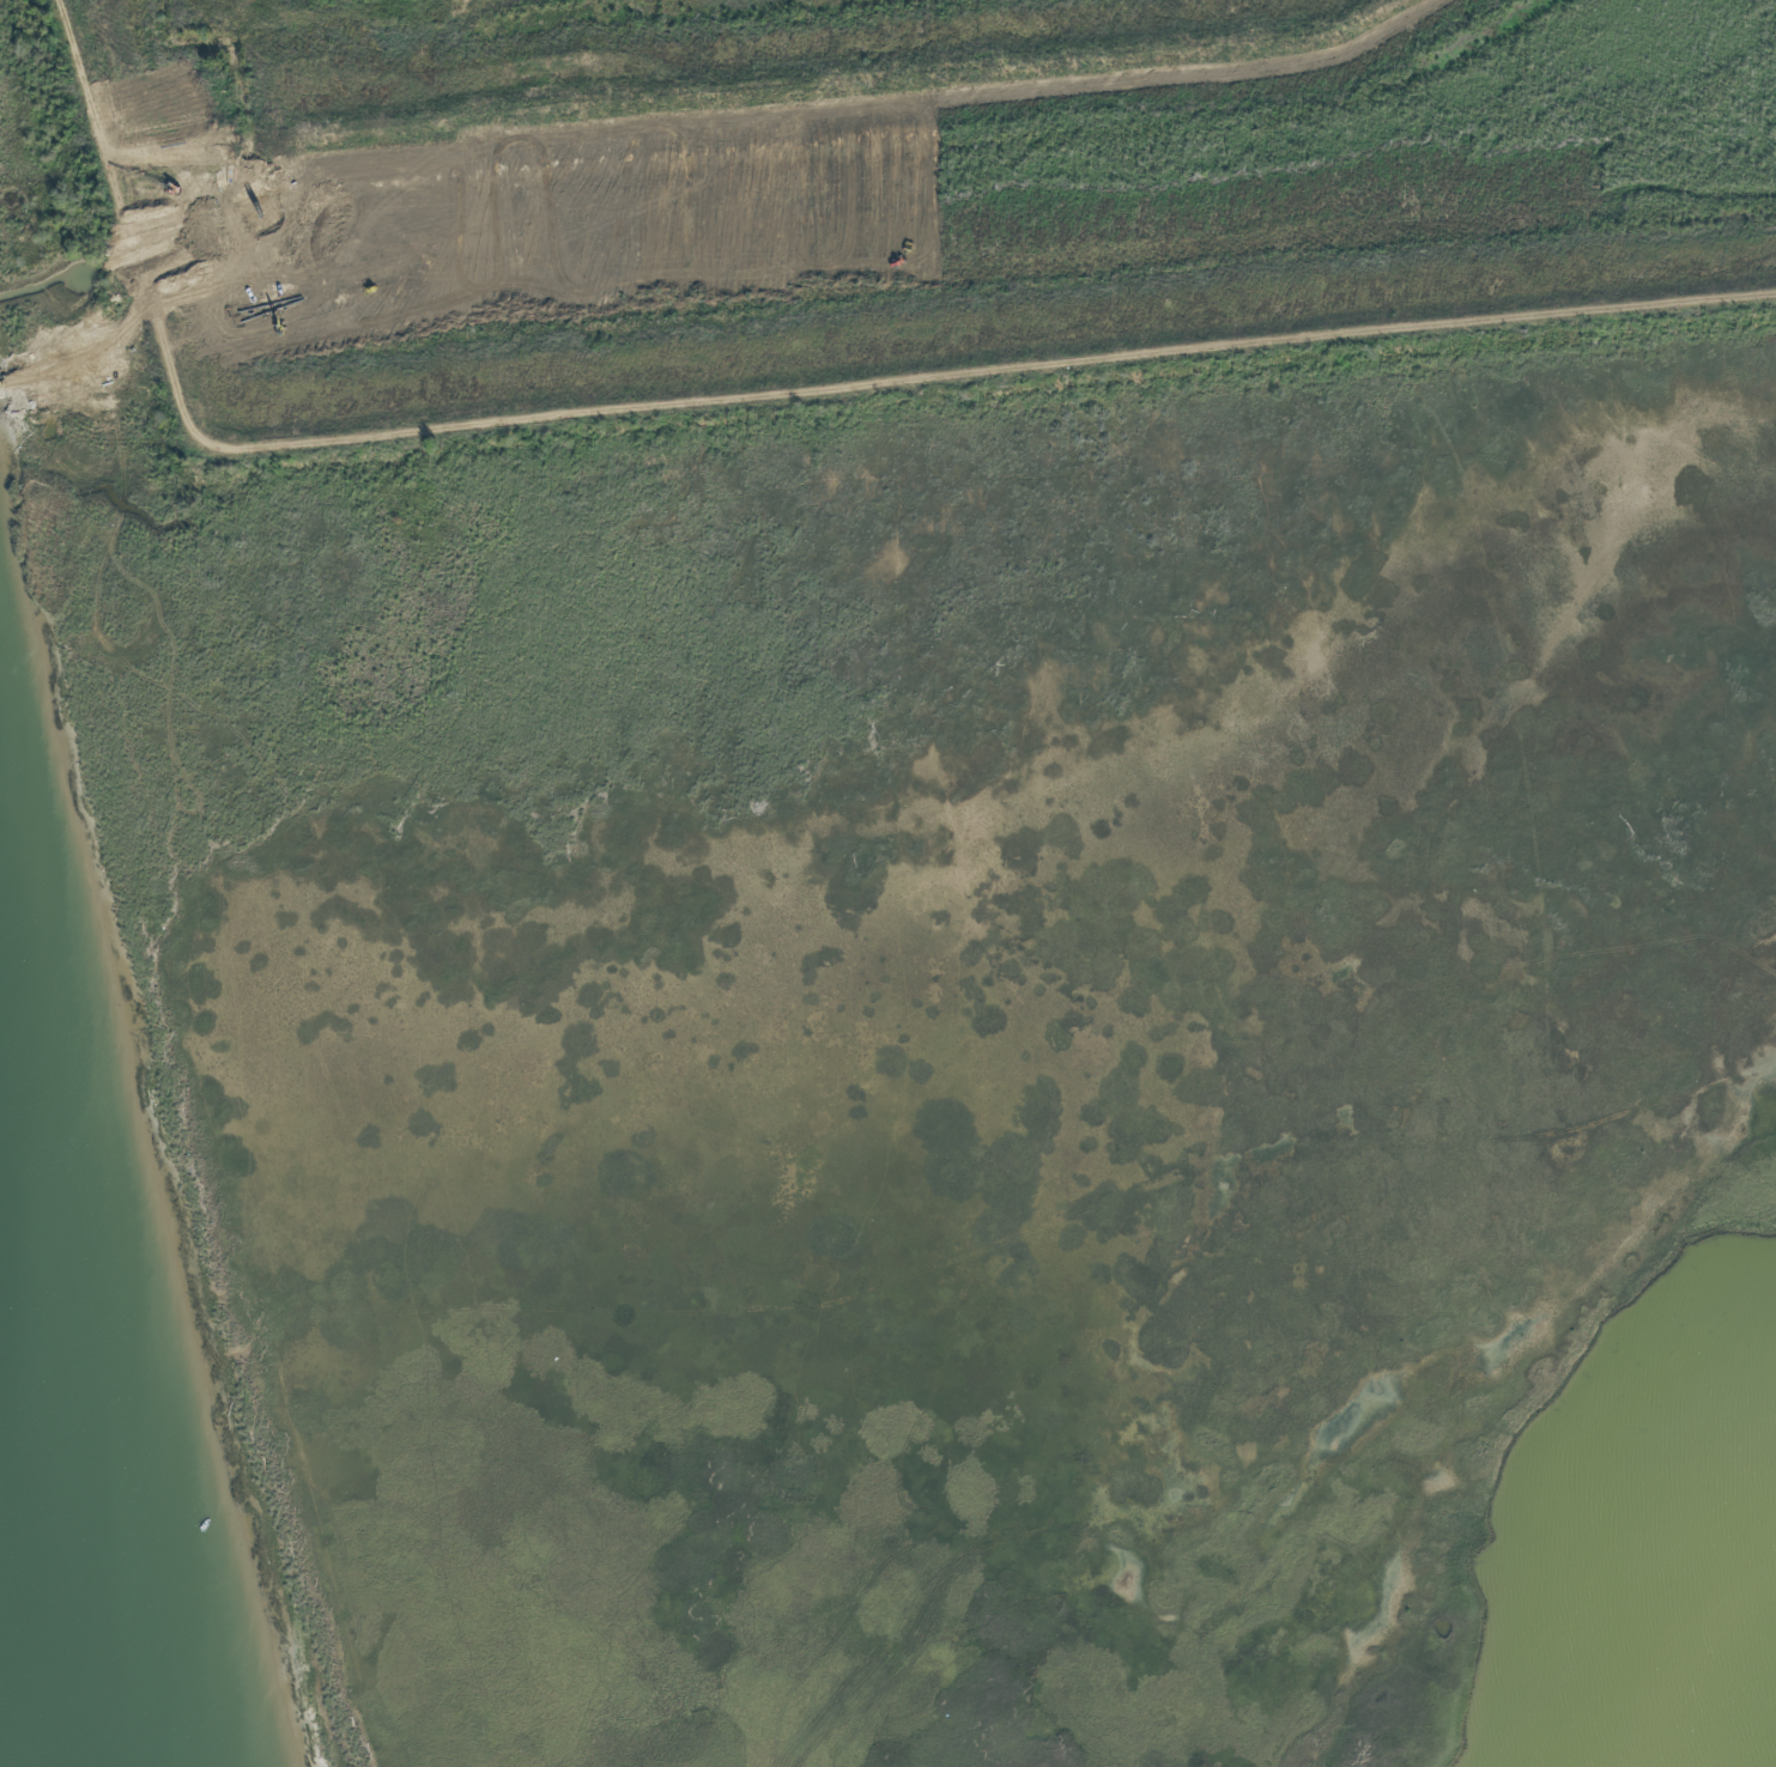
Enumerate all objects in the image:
river: (47, 1567)

